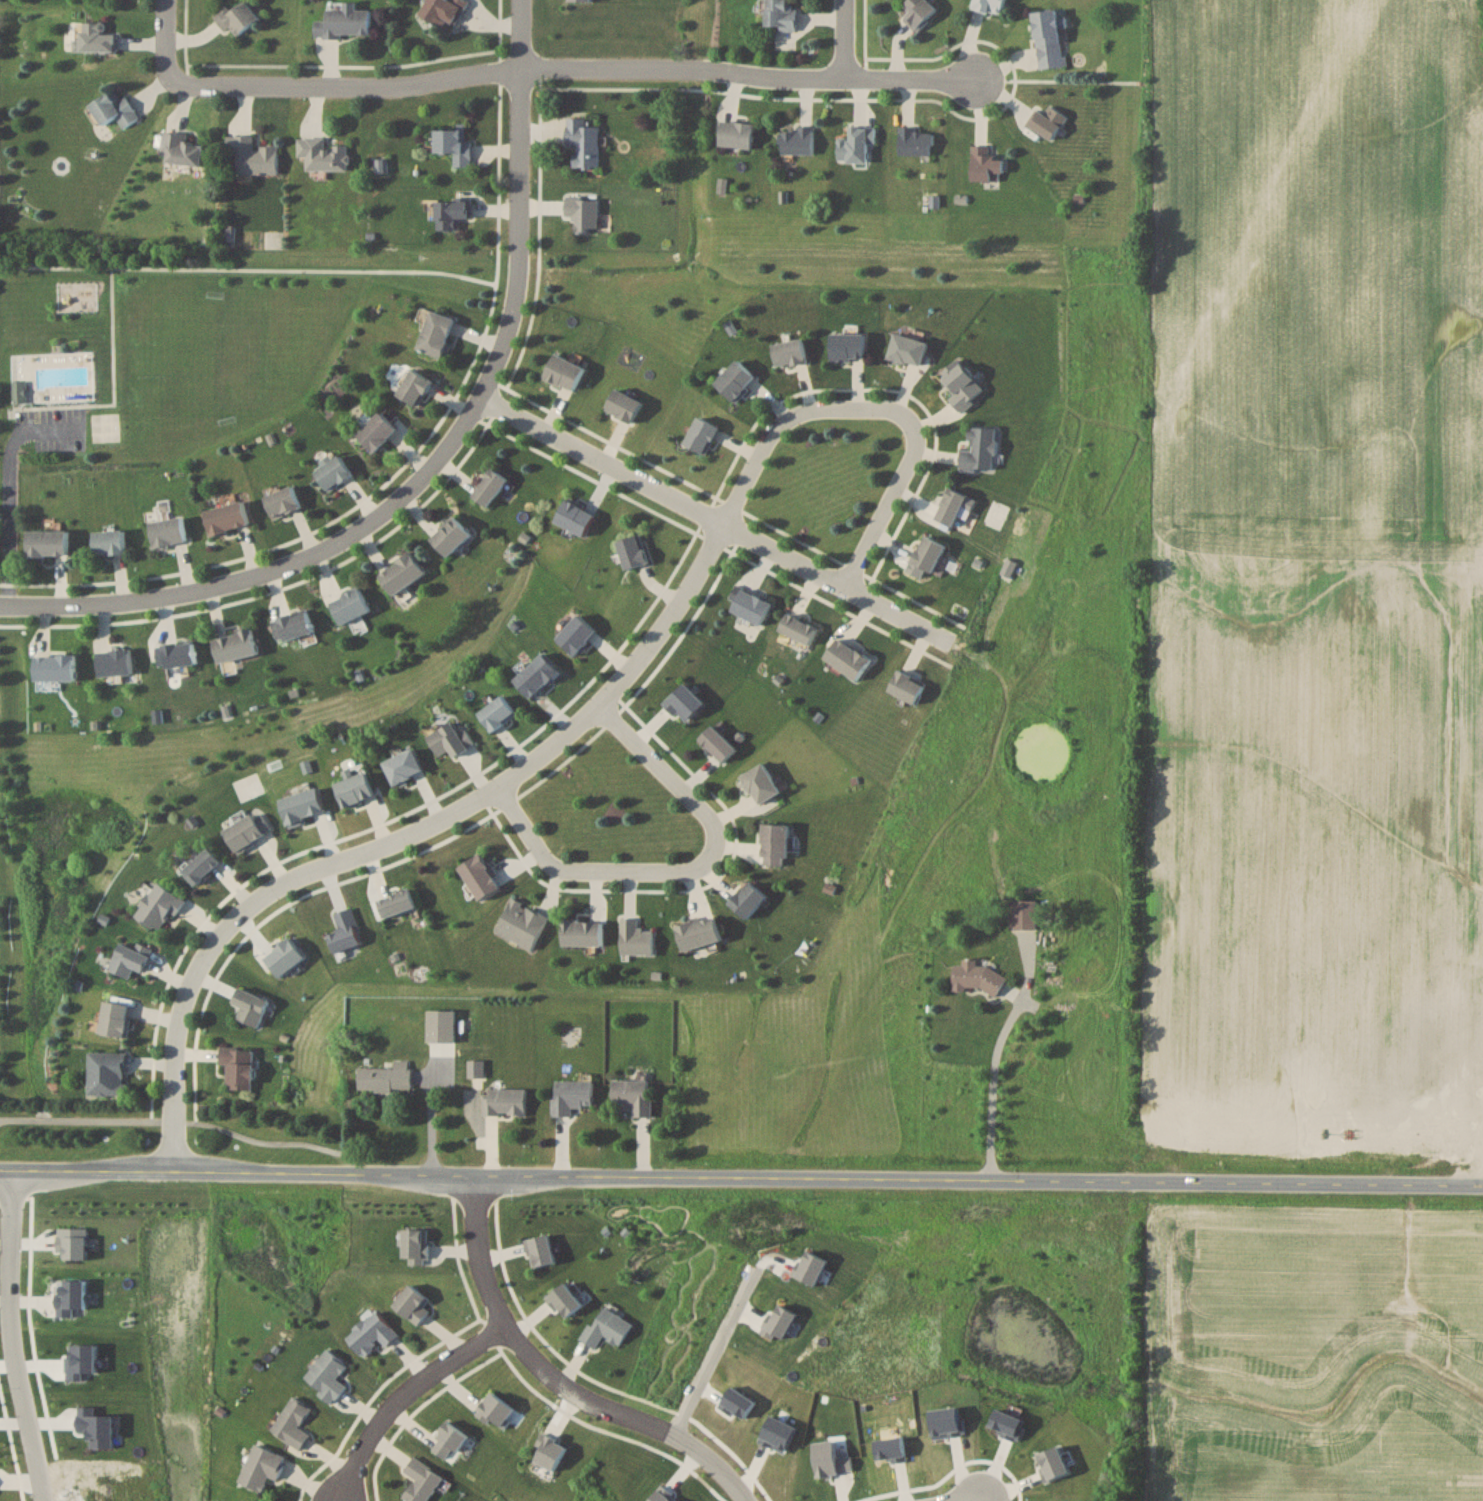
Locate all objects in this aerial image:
building: (988, 5)
building: (442, 11)
building: (918, 12)
building: (780, 15)
building: (236, 17)
building: (344, 21)
building: (92, 37)
road: (847, 37)
building: (1048, 37)
road: (166, 40)
road: (331, 65)
road: (598, 69)
building: (113, 109)
building: (1046, 122)
building: (737, 133)
building: (797, 139)
building: (583, 141)
building: (915, 141)
building: (454, 143)
building: (856, 144)
building: (180, 149)
building: (322, 154)
building: (252, 155)
building: (985, 164)
building: (452, 212)
building: (582, 212)
building: (436, 333)
building: (848, 346)
building: (908, 349)
building: (789, 352)
building: (564, 372)
building: (735, 381)
building: (962, 386)
building: (414, 387)
building: (623, 405)
building: (376, 432)
building: (701, 436)
building: (979, 450)
road: (442, 464)
building: (333, 472)
building: (489, 487)
road: (16, 488)
building: (282, 502)
building: (951, 507)
building: (574, 517)
building: (227, 518)
road: (879, 518)
road: (718, 521)
building: (168, 532)
building: (450, 536)
building: (109, 542)
building: (48, 544)
building: (632, 551)
building: (929, 553)
building: (401, 573)
building: (350, 606)
building: (751, 607)
building: (292, 625)
building: (798, 629)
building: (235, 646)
building: (177, 654)
building: (847, 659)
building: (115, 662)
building: (55, 668)
building: (537, 675)
building: (907, 687)
building: (497, 713)
building: (450, 740)
building: (718, 743)
building: (403, 766)
road: (659, 767)
road: (527, 768)
building: (761, 783)
building: (301, 806)
building: (247, 831)
building: (775, 845)
building: (202, 866)
road: (599, 869)
building: (479, 877)
building: (748, 900)
building: (396, 903)
building: (159, 907)
building: (1022, 915)
building: (522, 924)
building: (345, 931)
building: (582, 933)
building: (699, 933)
building: (636, 938)
building: (130, 959)
building: (976, 977)
building: (250, 1006)
building: (115, 1019)
building: (461, 1031)
building: (238, 1068)
building: (475, 1068)
building: (107, 1074)
building: (385, 1078)
road: (993, 1084)
building: (571, 1096)
building: (633, 1096)
building: (504, 1101)
road: (437, 1113)
road: (171, 1121)
road: (741, 1173)
building: (413, 1304)
building: (606, 1329)
building: (371, 1334)
road: (9, 1336)
road: (723, 1353)
road: (533, 1359)
building: (327, 1375)
road: (401, 1393)
building: (496, 1410)
building: (292, 1423)
building: (448, 1441)
building: (550, 1454)
building: (261, 1469)
road: (731, 1477)
building: (421, 1481)
road: (960, 1498)

